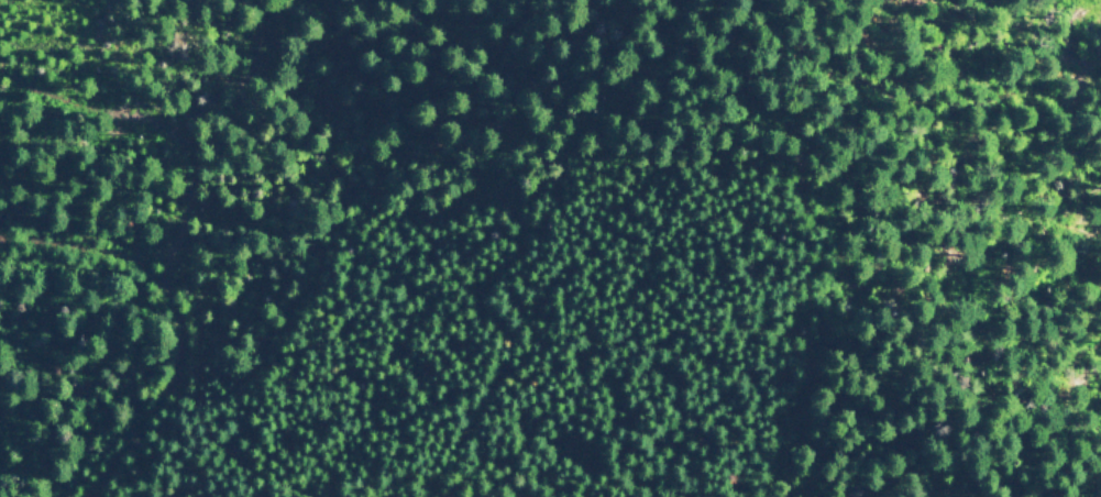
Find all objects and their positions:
road: (117, 402)

